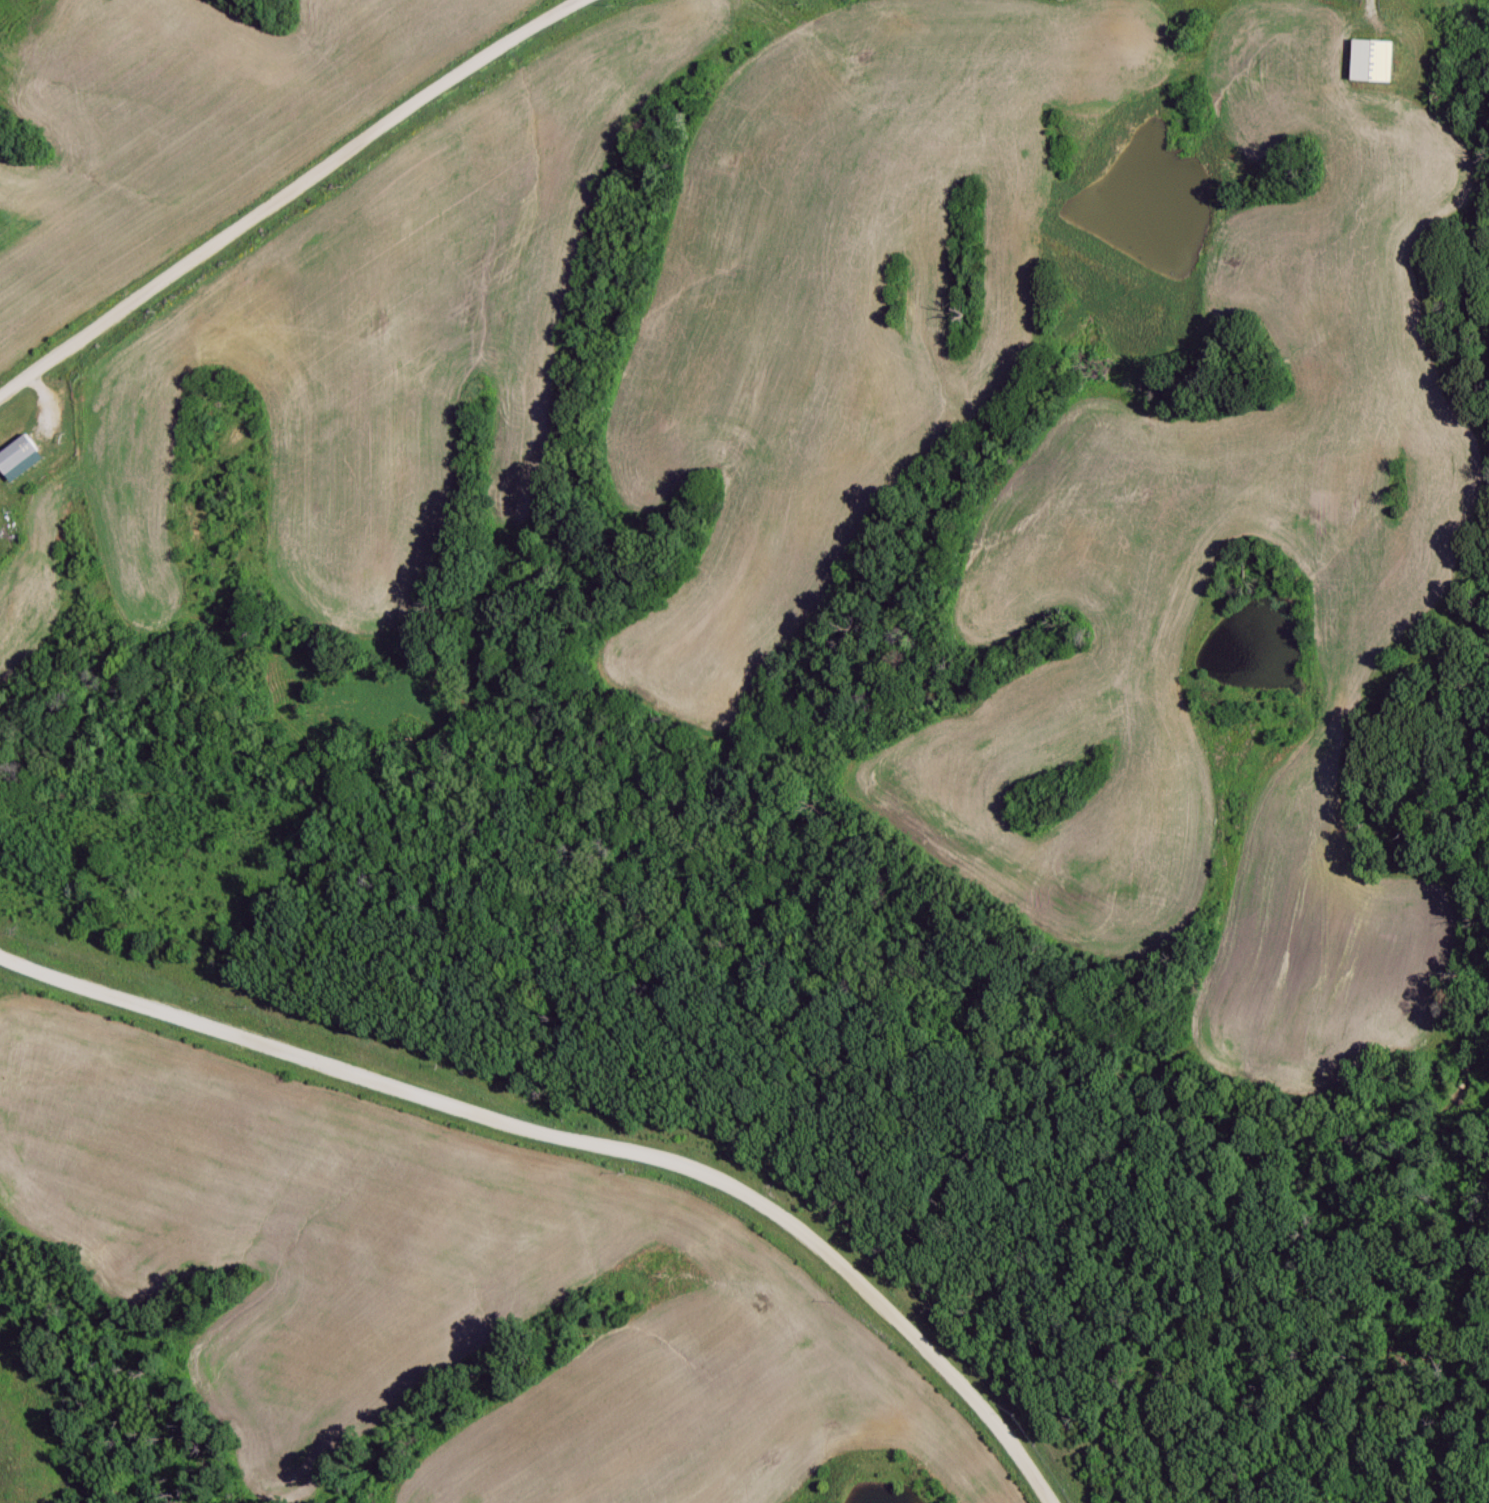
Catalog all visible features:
building: (1374, 60)
road: (294, 189)
building: (20, 458)
road: (577, 1144)

